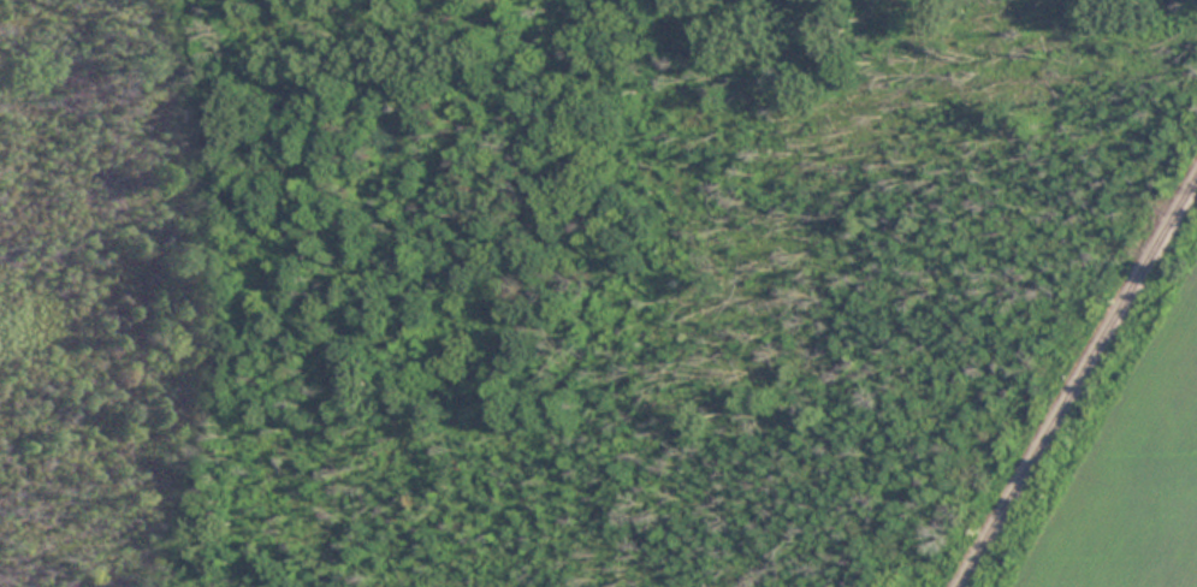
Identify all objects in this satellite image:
railway: (1077, 380)

